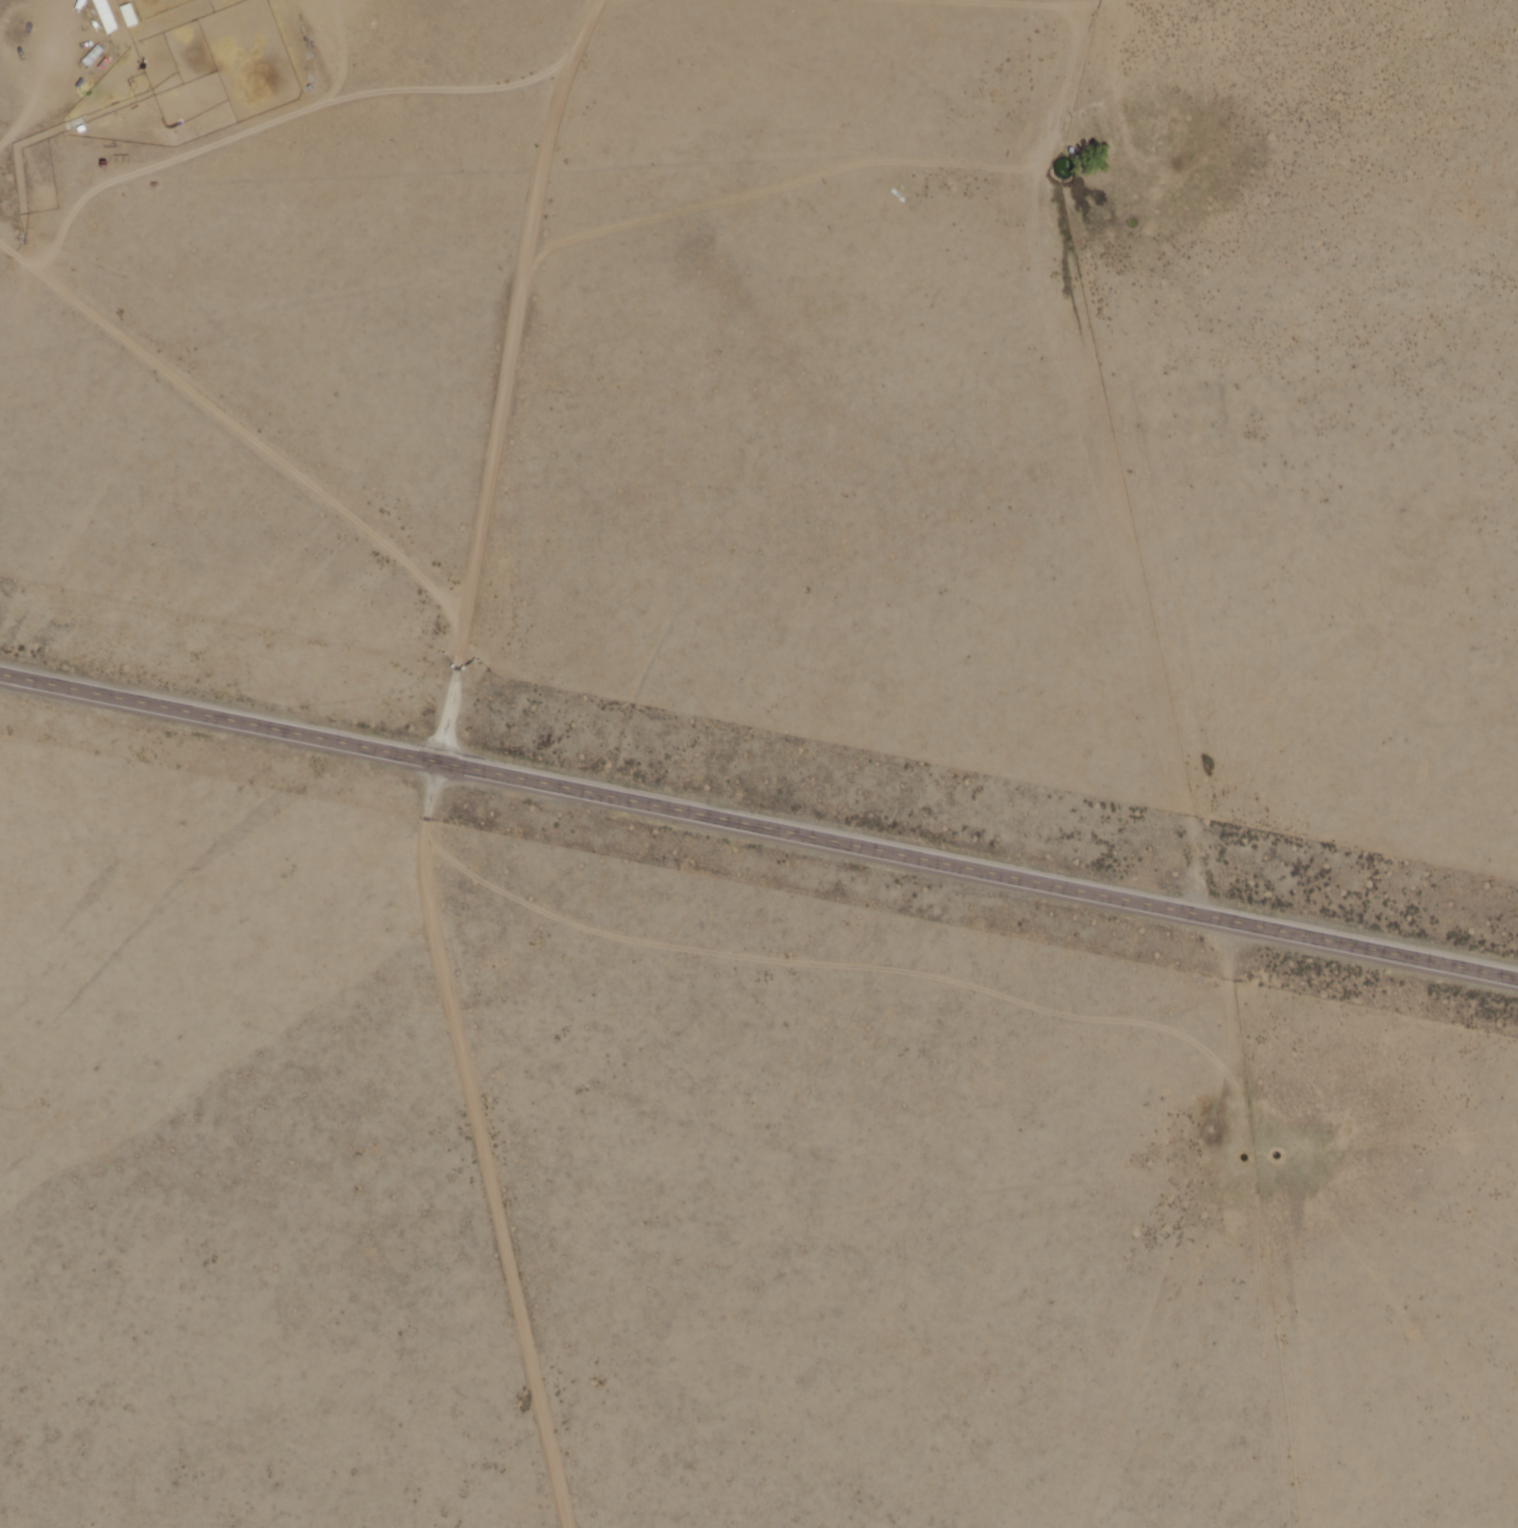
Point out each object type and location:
road: (1014, 3)
road: (1113, 4)
road: (851, 171)
road: (49, 250)
road: (17, 256)
road: (512, 378)
road: (758, 828)
road: (487, 1146)

